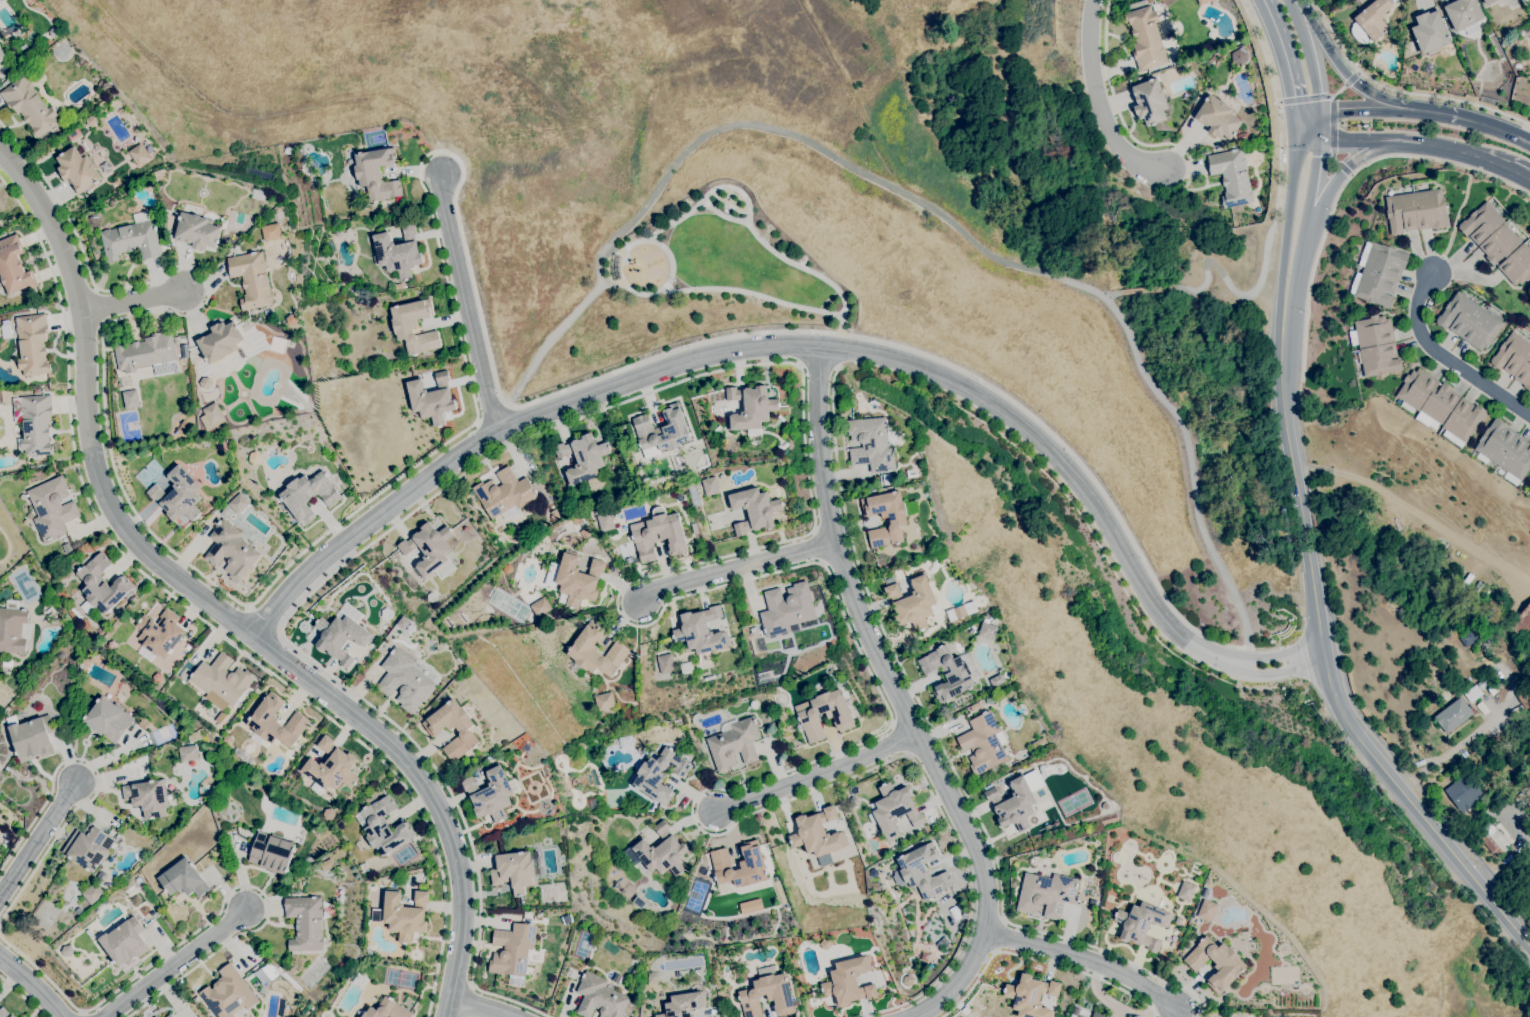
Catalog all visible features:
building: (1203, 1)
building: (1489, 2)
building: (1463, 13)
building: (1371, 22)
building: (54, 32)
building: (1429, 33)
building: (1146, 38)
road: (1322, 40)
building: (1413, 42)
building: (1505, 43)
building: (1389, 46)
road: (1284, 54)
building: (2, 55)
road: (1308, 55)
building: (1239, 56)
building: (1454, 57)
building: (1403, 71)
road: (1351, 79)
building: (106, 86)
road: (1338, 90)
road: (1401, 91)
road: (1385, 97)
road: (1305, 98)
road: (1097, 102)
building: (1149, 102)
road: (1278, 105)
building: (29, 106)
road: (1371, 111)
traffic signals: (1295, 112)
road: (1307, 112)
traffic signals: (1319, 113)
road: (1440, 113)
building: (1218, 117)
building: (91, 121)
road: (1319, 126)
road: (1295, 127)
road: (1494, 127)
road: (1126, 132)
building: (72, 133)
building: (1242, 136)
road: (1333, 139)
traffic signals: (1319, 140)
traffic signals: (1295, 142)
road: (1403, 142)
building: (138, 154)
building: (78, 169)
road: (1342, 172)
building: (377, 173)
road: (1519, 174)
building: (1232, 177)
road: (1343, 184)
building: (168, 206)
road: (925, 206)
building: (1416, 211)
road: (725, 216)
building: (168, 217)
road: (1287, 219)
road: (1304, 219)
building: (170, 224)
road: (752, 230)
building: (197, 231)
building: (271, 232)
building: (338, 232)
building: (132, 238)
road: (435, 238)
building: (1498, 243)
road: (653, 245)
building: (1366, 248)
building: (398, 252)
building: (14, 266)
building: (1379, 275)
building: (251, 279)
park: (690, 285)
road: (1236, 291)
road: (1148, 292)
road: (752, 294)
road: (1114, 295)
road: (134, 302)
road: (467, 303)
building: (291, 320)
building: (1469, 321)
building: (402, 328)
building: (220, 341)
building: (33, 344)
building: (1375, 346)
road: (811, 347)
road: (838, 349)
building: (145, 352)
building: (185, 355)
road: (1444, 357)
building: (1514, 359)
road: (817, 364)
building: (431, 398)
building: (130, 399)
building: (1441, 406)
building: (751, 407)
building: (211, 417)
building: (1425, 420)
building: (34, 423)
building: (662, 430)
building: (870, 443)
building: (1504, 449)
building: (583, 456)
building: (699, 462)
building: (675, 464)
road: (1295, 475)
building: (594, 482)
building: (710, 485)
building: (1529, 486)
building: (178, 495)
building: (308, 495)
building: (505, 495)
building: (680, 497)
building: (238, 503)
building: (52, 508)
building: (754, 509)
building: (225, 511)
building: (897, 520)
building: (605, 521)
building: (695, 528)
building: (658, 534)
building: (430, 549)
building: (232, 550)
road: (737, 553)
road: (741, 573)
building: (578, 580)
building: (1467, 584)
building: (101, 586)
building: (1479, 589)
building: (431, 597)
building: (913, 602)
road: (213, 603)
building: (541, 607)
building: (787, 608)
building: (50, 609)
building: (961, 611)
building: (77, 614)
building: (387, 614)
road: (200, 618)
road: (263, 618)
building: (1522, 623)
building: (14, 628)
building: (411, 628)
building: (98, 629)
building: (987, 629)
building: (701, 631)
building: (342, 633)
building: (159, 634)
building: (1468, 637)
building: (112, 644)
building: (444, 645)
building: (187, 647)
building: (595, 653)
building: (458, 660)
building: (7, 663)
building: (664, 664)
building: (951, 671)
building: (222, 679)
building: (404, 680)
building: (997, 680)
building: (1483, 682)
building: (1459, 683)
building: (1493, 690)
building: (1473, 693)
building: (120, 696)
building: (1445, 698)
road: (901, 700)
building: (989, 700)
building: (604, 701)
building: (754, 704)
building: (975, 706)
building: (1454, 714)
building: (839, 716)
building: (64, 717)
building: (108, 720)
building: (275, 723)
building: (142, 724)
building: (434, 730)
park: (162, 734)
building: (31, 737)
building: (228, 739)
building: (734, 743)
building: (982, 743)
building: (1038, 743)
road: (944, 752)
building: (187, 753)
building: (243, 755)
building: (7, 768)
building: (331, 768)
building: (660, 774)
road: (818, 774)
road: (97, 780)
building: (1510, 786)
building: (293, 788)
building: (1481, 788)
building: (1460, 792)
building: (488, 794)
building: (148, 797)
building: (170, 797)
road: (1407, 799)
building: (853, 800)
building: (1012, 803)
building: (892, 810)
building: (329, 813)
building: (383, 826)
building: (815, 832)
building: (5, 839)
building: (1492, 839)
road: (37, 843)
building: (89, 847)
building: (319, 850)
building: (659, 852)
building: (271, 853)
building: (307, 860)
building: (752, 865)
building: (514, 871)
building: (924, 872)
building: (302, 876)
building: (183, 879)
building: (72, 890)
building: (1186, 891)
building: (93, 894)
building: (1045, 894)
building: (1202, 894)
building: (136, 900)
building: (639, 902)
building: (749, 906)
building: (78, 910)
building: (1207, 910)
building: (377, 914)
building: (405, 915)
building: (1178, 920)
road: (208, 922)
building: (305, 923)
building: (1142, 924)
building: (90, 935)
road: (1523, 938)
building: (124, 942)
building: (368, 949)
building: (512, 949)
building: (67, 950)
road: (1088, 958)
road: (1039, 961)
road: (177, 963)
building: (1216, 963)
building: (616, 977)
building: (653, 977)
building: (360, 980)
building: (848, 981)
road: (33, 984)
building: (861, 986)
building: (261, 990)
building: (228, 993)
building: (767, 994)
road: (21, 995)
building: (1031, 996)
building: (600, 997)
road: (469, 1001)
building: (682, 1004)
road: (483, 1006)
building: (387, 1010)
building: (4, 1013)
building: (169, 1015)
building: (1098, 1015)
building: (155, 1016)

